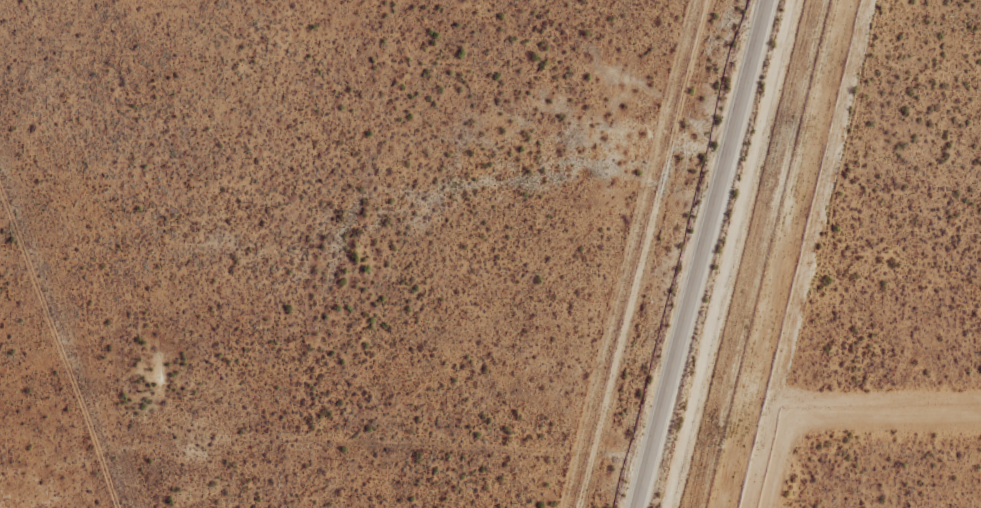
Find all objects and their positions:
road: (703, 254)

